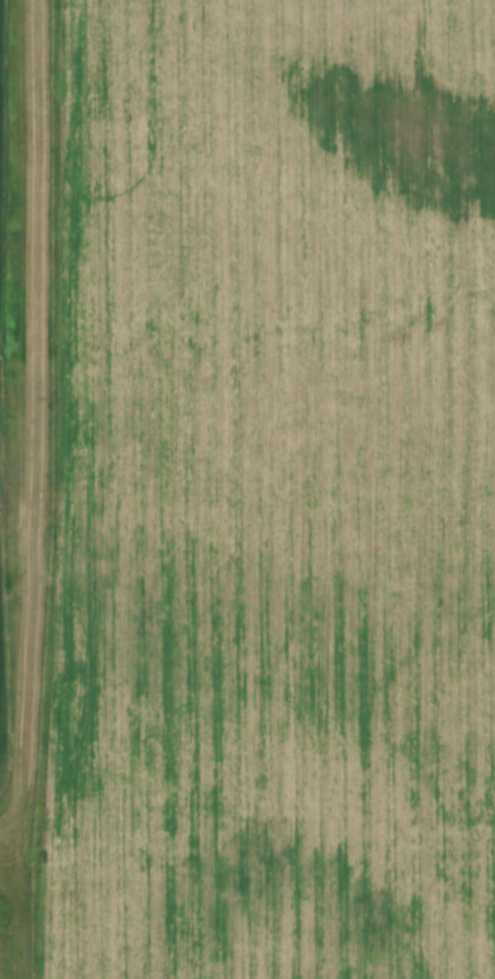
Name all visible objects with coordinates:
road: (25, 424)
road: (12, 849)

